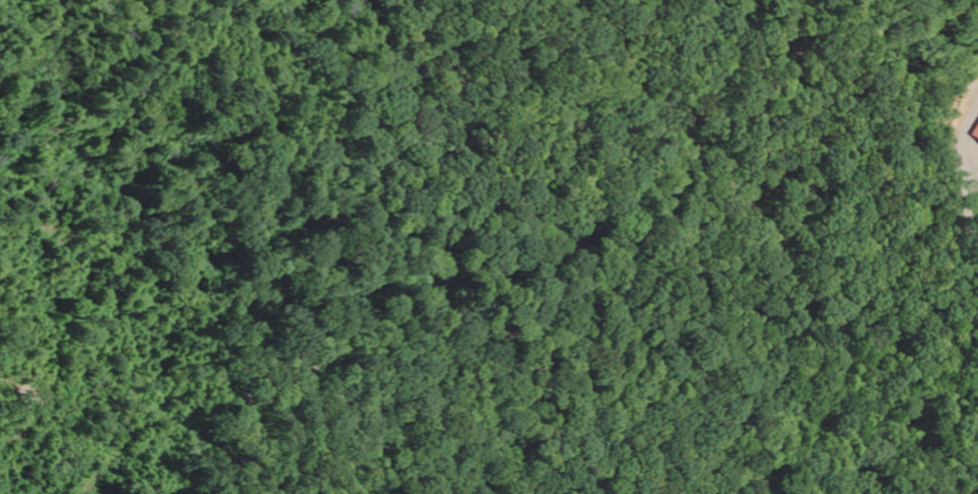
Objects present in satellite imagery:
building: (976, 136)

